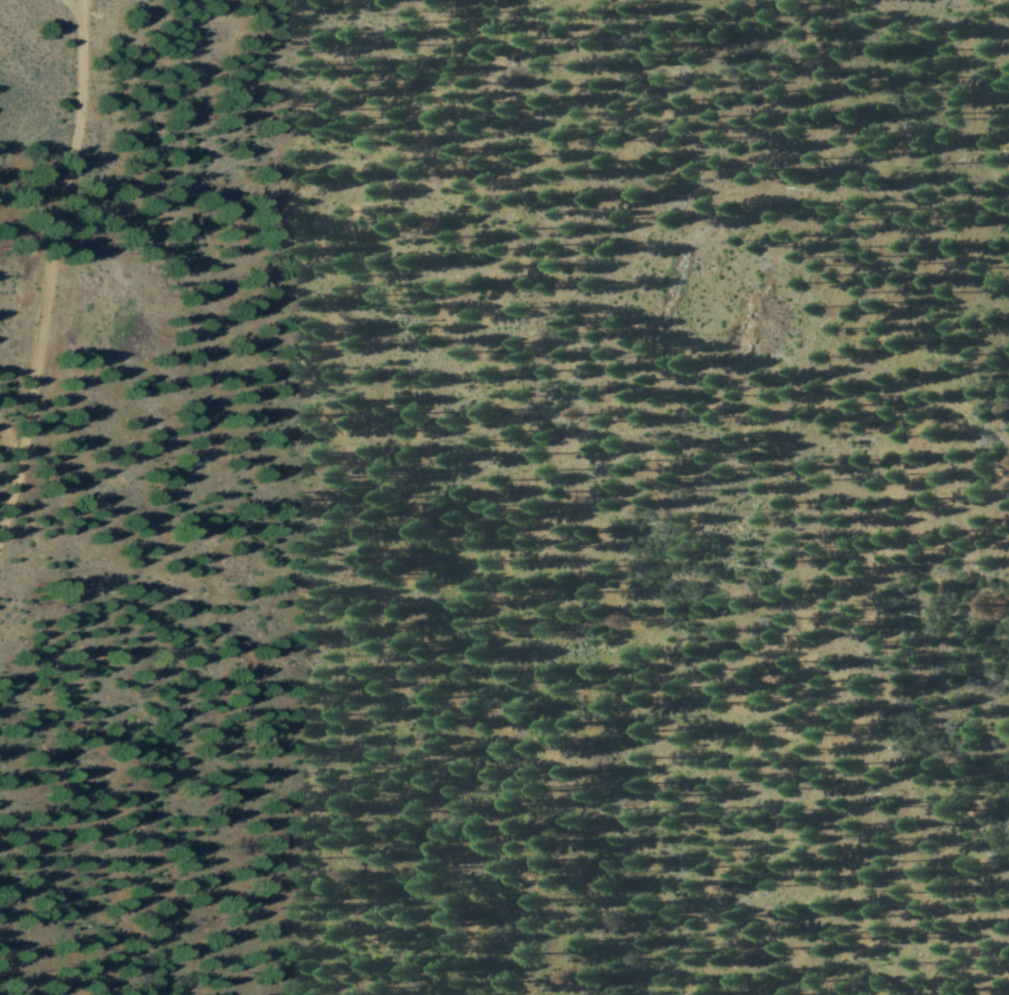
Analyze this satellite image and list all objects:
road: (60, 260)

